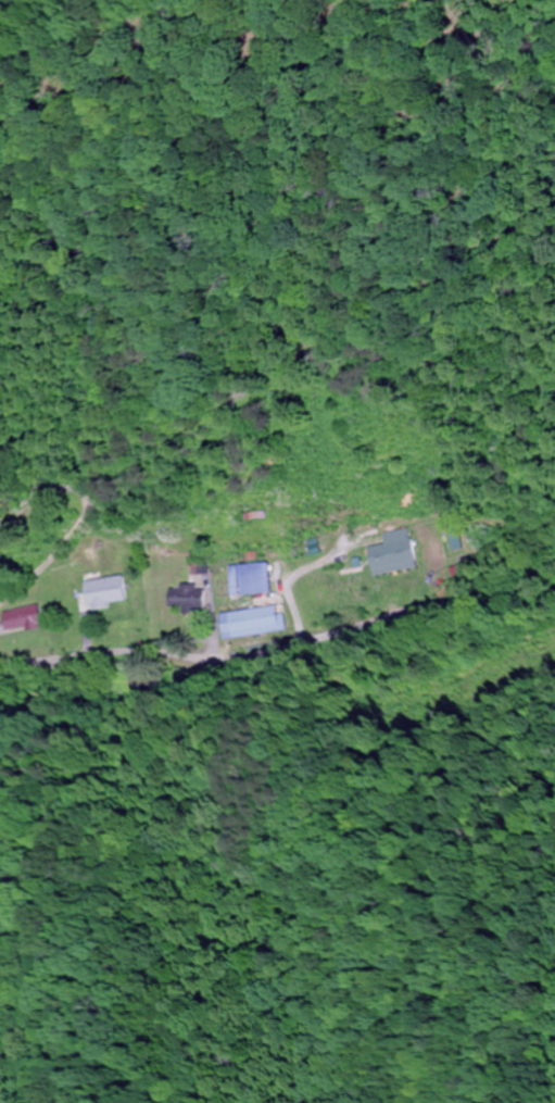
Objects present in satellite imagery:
road: (212, 310)
building: (7, 531)
building: (396, 553)
building: (461, 573)
building: (258, 578)
building: (103, 594)
building: (188, 599)
building: (24, 618)
building: (252, 622)
road: (278, 631)

